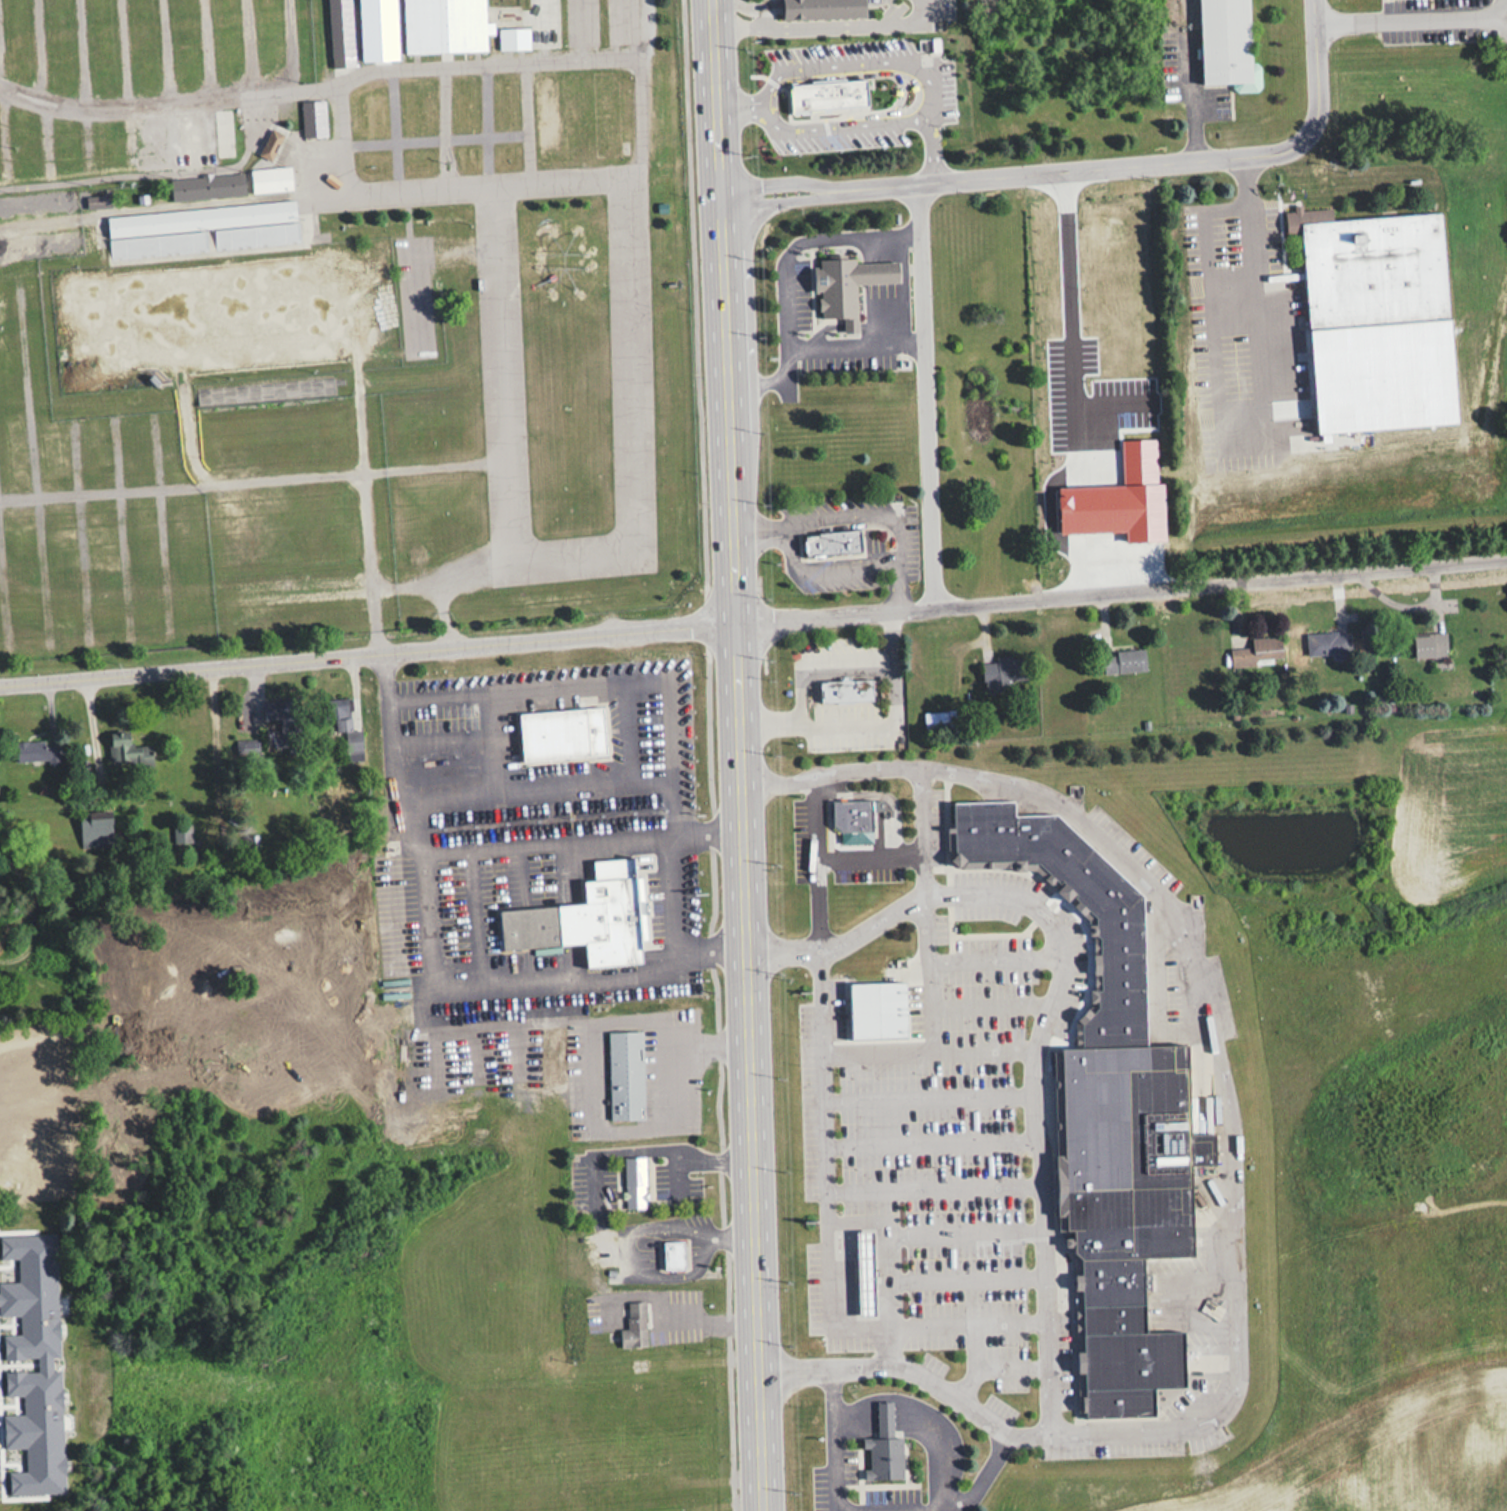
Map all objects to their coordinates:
road: (737, 5)
building: (831, 8)
road: (1412, 17)
building: (444, 26)
road: (821, 26)
building: (338, 27)
building: (512, 34)
building: (1224, 43)
road: (290, 45)
road: (247, 48)
road: (204, 50)
road: (37, 51)
road: (166, 52)
road: (122, 55)
road: (78, 56)
road: (520, 63)
road: (840, 66)
road: (1318, 67)
building: (838, 96)
road: (171, 104)
building: (312, 118)
road: (529, 122)
road: (487, 125)
road: (823, 126)
road: (445, 128)
road: (211, 130)
building: (376, 130)
road: (394, 133)
road: (170, 135)
road: (129, 138)
road: (435, 138)
road: (2, 139)
road: (44, 140)
road: (85, 141)
building: (270, 145)
road: (937, 147)
road: (1017, 171)
road: (154, 173)
road: (628, 173)
building: (270, 179)
building: (206, 187)
road: (360, 195)
building: (44, 201)
road: (71, 222)
building: (200, 228)
building: (47, 244)
building: (1371, 266)
road: (1253, 280)
building: (859, 286)
building: (1074, 351)
road: (925, 392)
road: (360, 415)
road: (191, 431)
road: (34, 463)
road: (348, 471)
road: (107, 488)
road: (161, 522)
road: (124, 526)
road: (758, 527)
road: (81, 531)
road: (785, 542)
building: (844, 544)
road: (372, 562)
road: (896, 562)
road: (438, 582)
road: (5, 586)
road: (753, 621)
building: (1329, 644)
building: (1429, 645)
building: (1257, 651)
building: (1123, 661)
road: (814, 663)
building: (1003, 672)
road: (657, 679)
building: (859, 690)
road: (867, 719)
building: (943, 720)
building: (346, 730)
building: (574, 736)
building: (128, 750)
building: (37, 751)
road: (737, 755)
road: (890, 793)
road: (929, 809)
building: (860, 814)
building: (94, 831)
building: (182, 834)
road: (580, 836)
road: (899, 855)
road: (825, 861)
building: (599, 920)
road: (1001, 959)
building: (1129, 963)
road: (934, 975)
road: (430, 976)
road: (997, 1006)
building: (890, 1010)
road: (933, 1053)
building: (635, 1076)
road: (935, 1098)
road: (832, 1140)
road: (937, 1144)
building: (1140, 1153)
building: (643, 1182)
road: (938, 1187)
road: (968, 1230)
road: (892, 1245)
building: (672, 1255)
building: (686, 1255)
building: (867, 1272)
road: (970, 1278)
building: (645, 1326)
road: (943, 1327)
building: (1134, 1343)
road: (895, 1346)
road: (912, 1375)
road: (863, 1415)
road: (894, 1415)
road: (1216, 1422)
road: (949, 1447)
building: (893, 1449)
road: (873, 1510)

